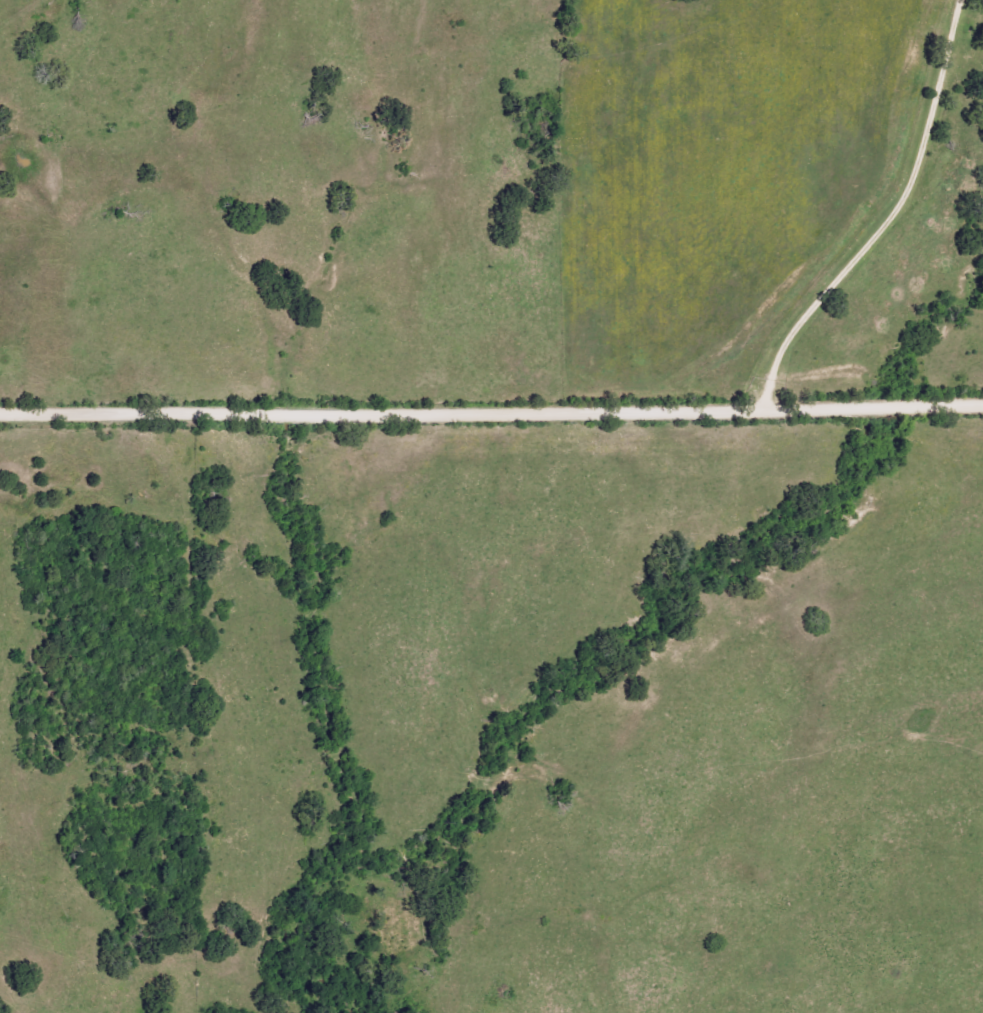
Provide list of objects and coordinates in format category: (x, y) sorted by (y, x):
road: (491, 415)

